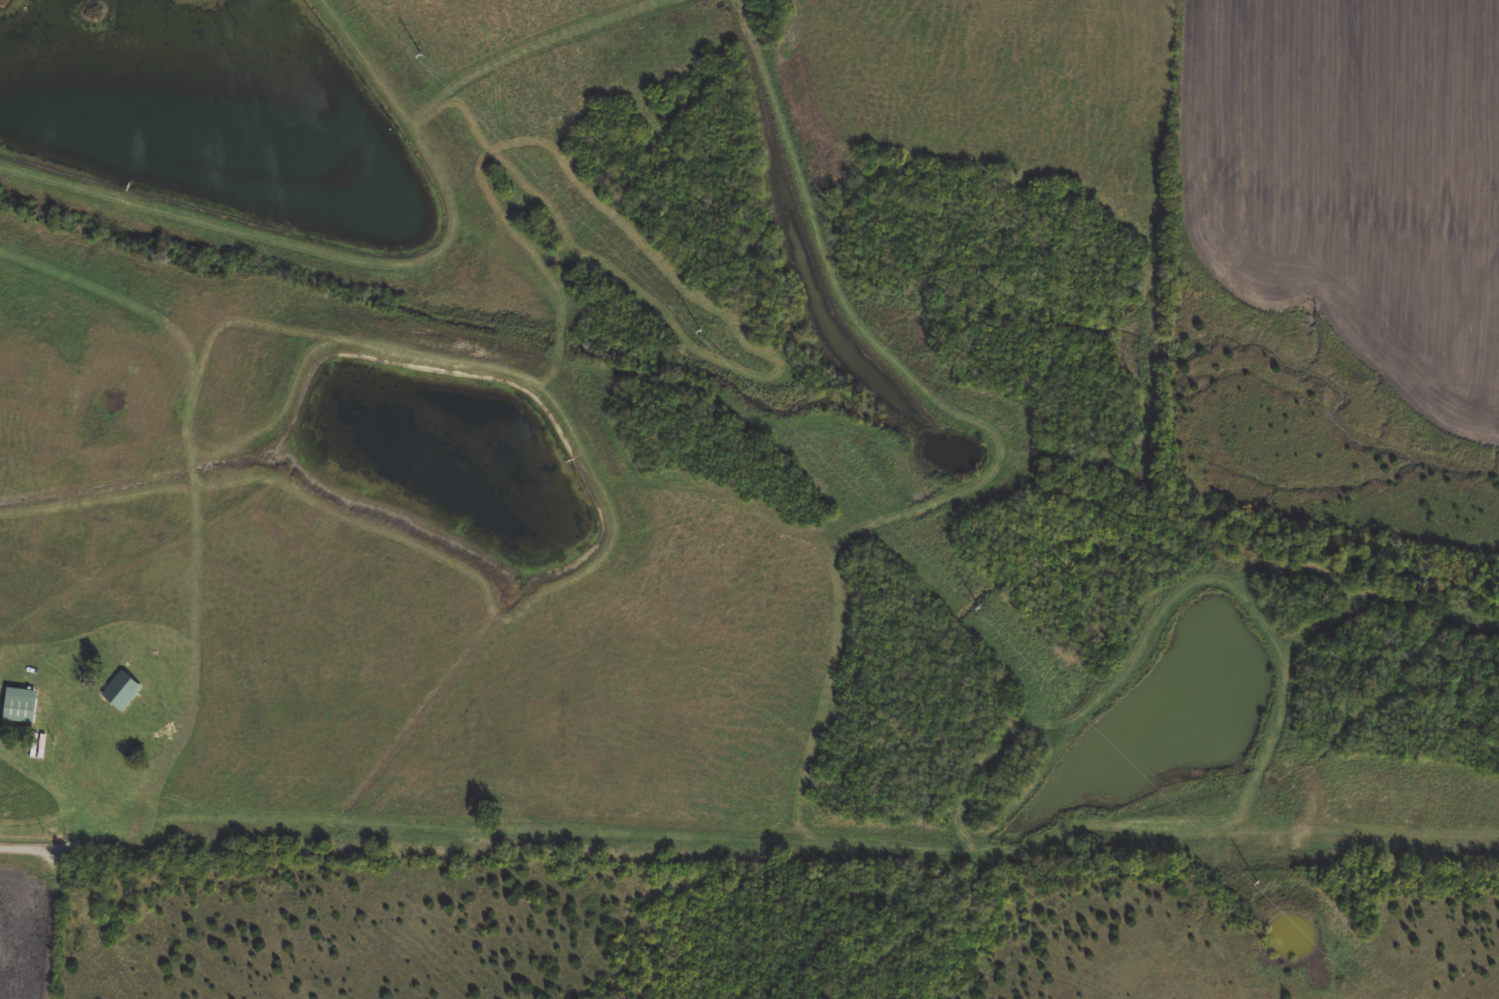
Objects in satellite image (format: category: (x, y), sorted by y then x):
power tower: (423, 59)
power tower: (708, 331)
power tower: (983, 611)
building: (123, 693)
building: (21, 706)
road: (26, 850)
power tower: (1260, 888)

